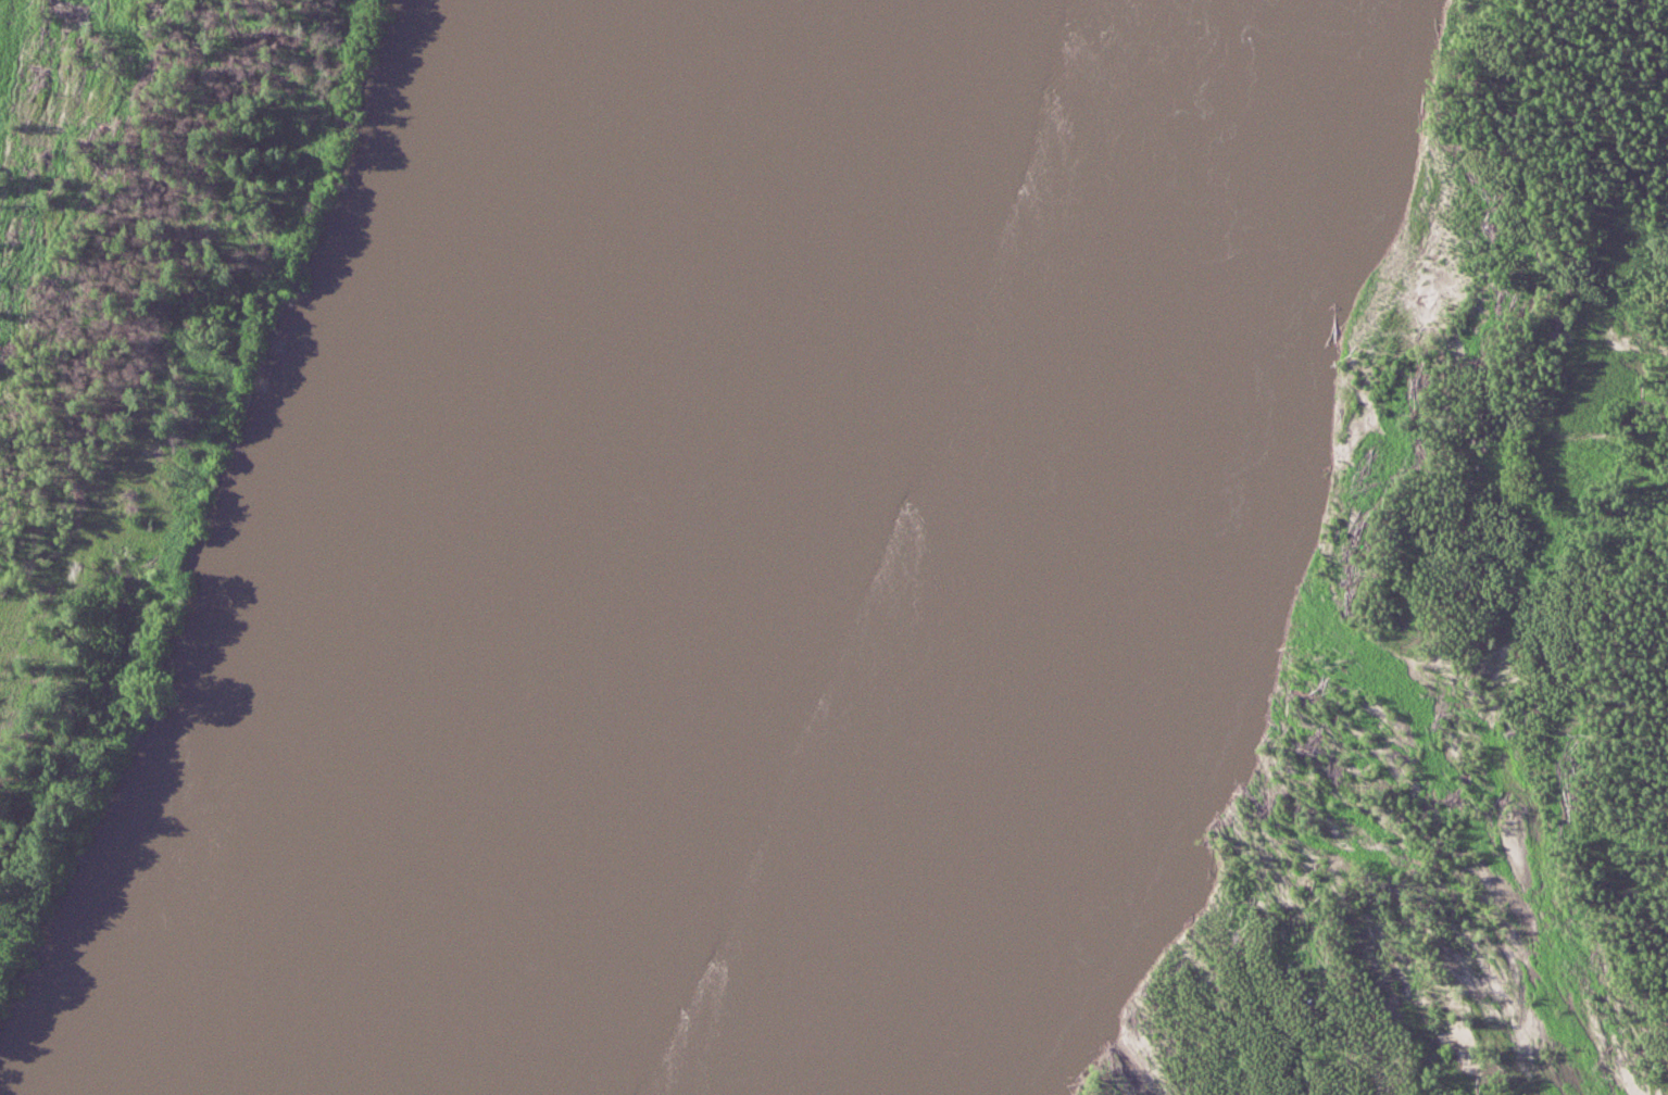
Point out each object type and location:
river: (563, 556)

